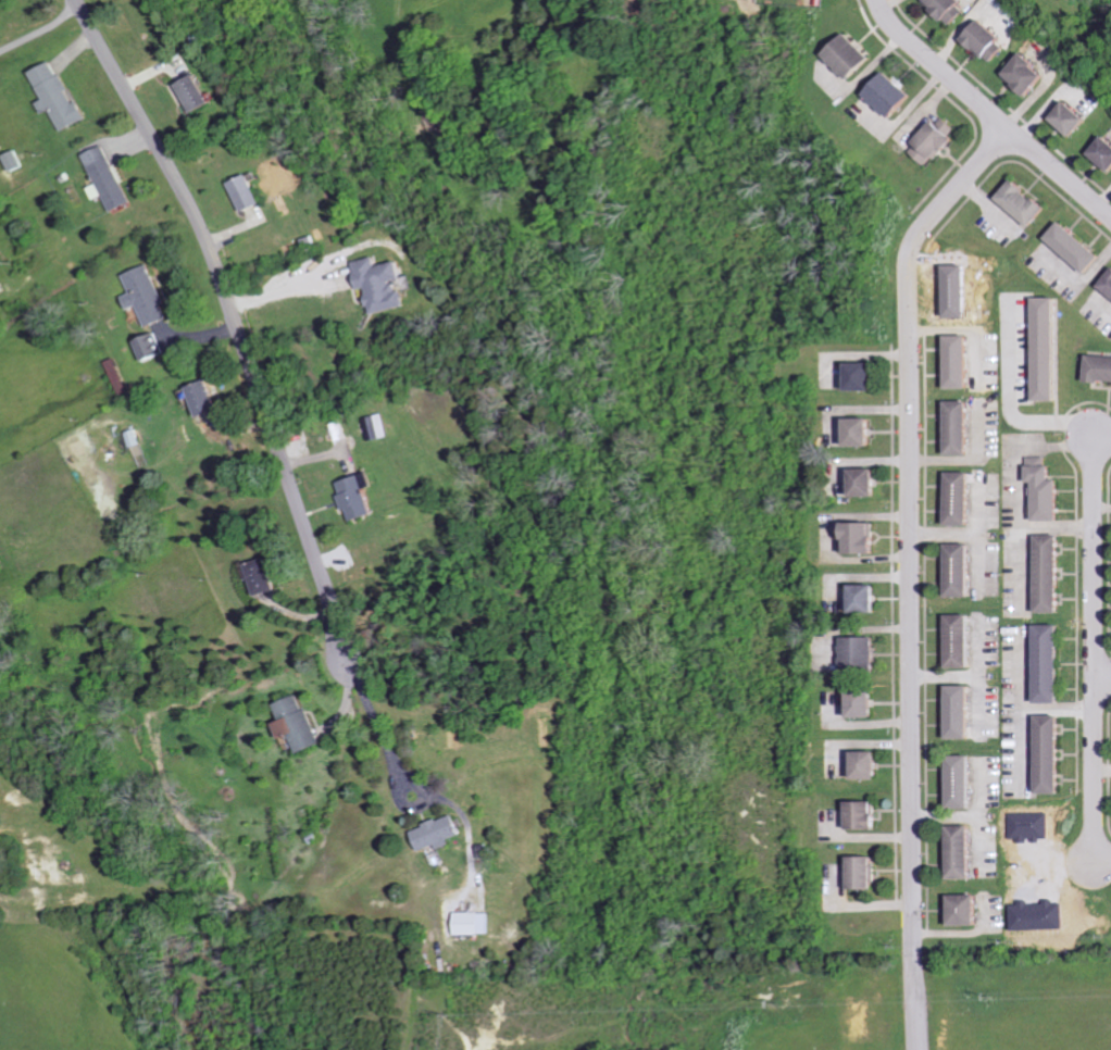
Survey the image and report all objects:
building: (948, 9)
building: (988, 40)
building: (853, 55)
building: (1031, 74)
building: (197, 93)
building: (894, 95)
building: (60, 96)
road: (989, 114)
building: (1074, 117)
building: (937, 141)
building: (1104, 151)
building: (16, 160)
building: (110, 178)
building: (249, 192)
road: (1102, 196)
building: (1025, 202)
building: (1075, 246)
building: (383, 284)
building: (1108, 284)
road: (284, 287)
building: (149, 295)
road: (1102, 308)
road: (235, 321)
building: (154, 347)
building: (1048, 348)
building: (960, 361)
building: (1100, 367)
building: (866, 376)
building: (208, 398)
building: (376, 427)
building: (961, 427)
building: (865, 432)
road: (1101, 436)
road: (968, 458)
building: (870, 482)
road: (1013, 485)
building: (1047, 489)
building: (361, 496)
building: (962, 498)
road: (1101, 505)
road: (910, 520)
road: (971, 534)
building: (864, 537)
road: (977, 560)
road: (1016, 565)
building: (962, 570)
building: (1052, 573)
building: (267, 576)
building: (870, 598)
building: (963, 640)
road: (1094, 648)
building: (864, 653)
building: (1052, 663)
road: (970, 674)
road: (1102, 680)
road: (976, 699)
building: (870, 703)
road: (1019, 709)
building: (963, 711)
road: (377, 722)
building: (300, 723)
road: (1019, 747)
building: (1054, 753)
building: (873, 764)
road: (1102, 768)
building: (964, 782)
building: (869, 814)
road: (969, 816)
building: (439, 833)
road: (976, 841)
building: (965, 852)
road: (1101, 862)
building: (869, 873)
building: (970, 910)
building: (475, 923)
road: (961, 930)
road: (915, 998)

